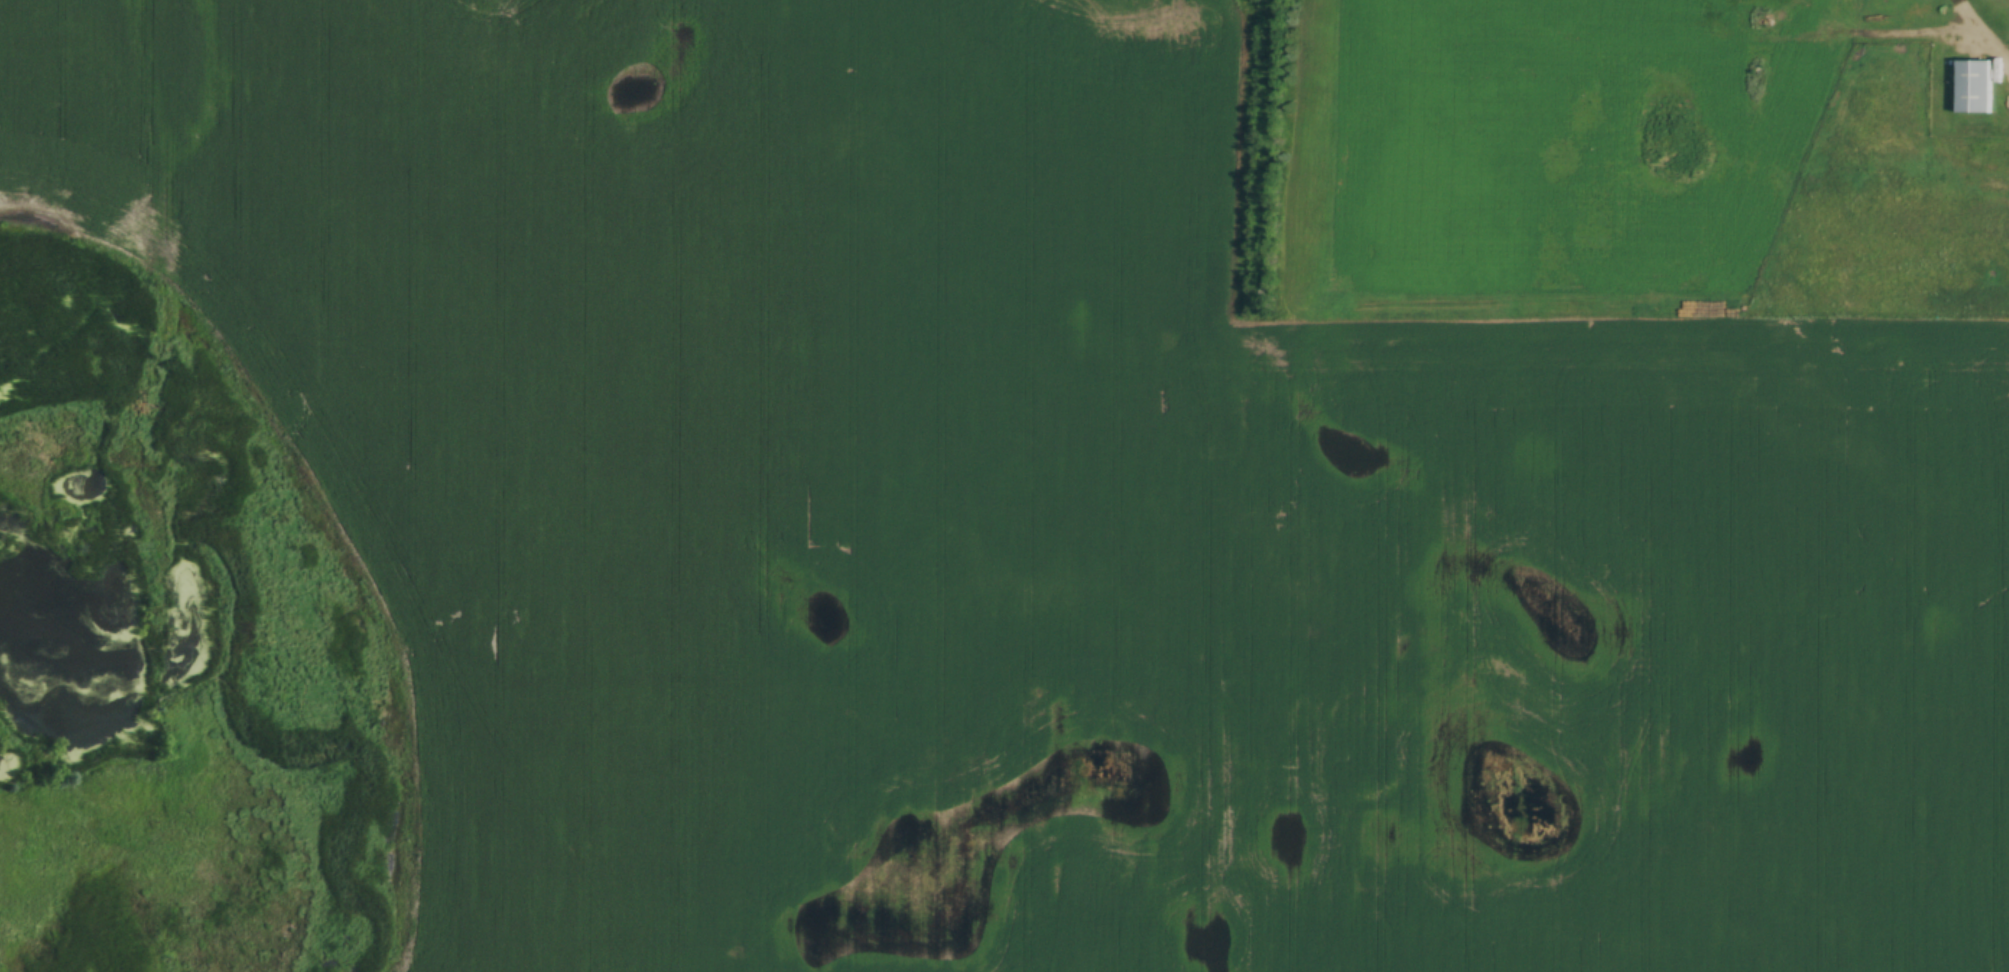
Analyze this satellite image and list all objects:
building: (1758, 15)
road: (1984, 29)
building: (1971, 84)

